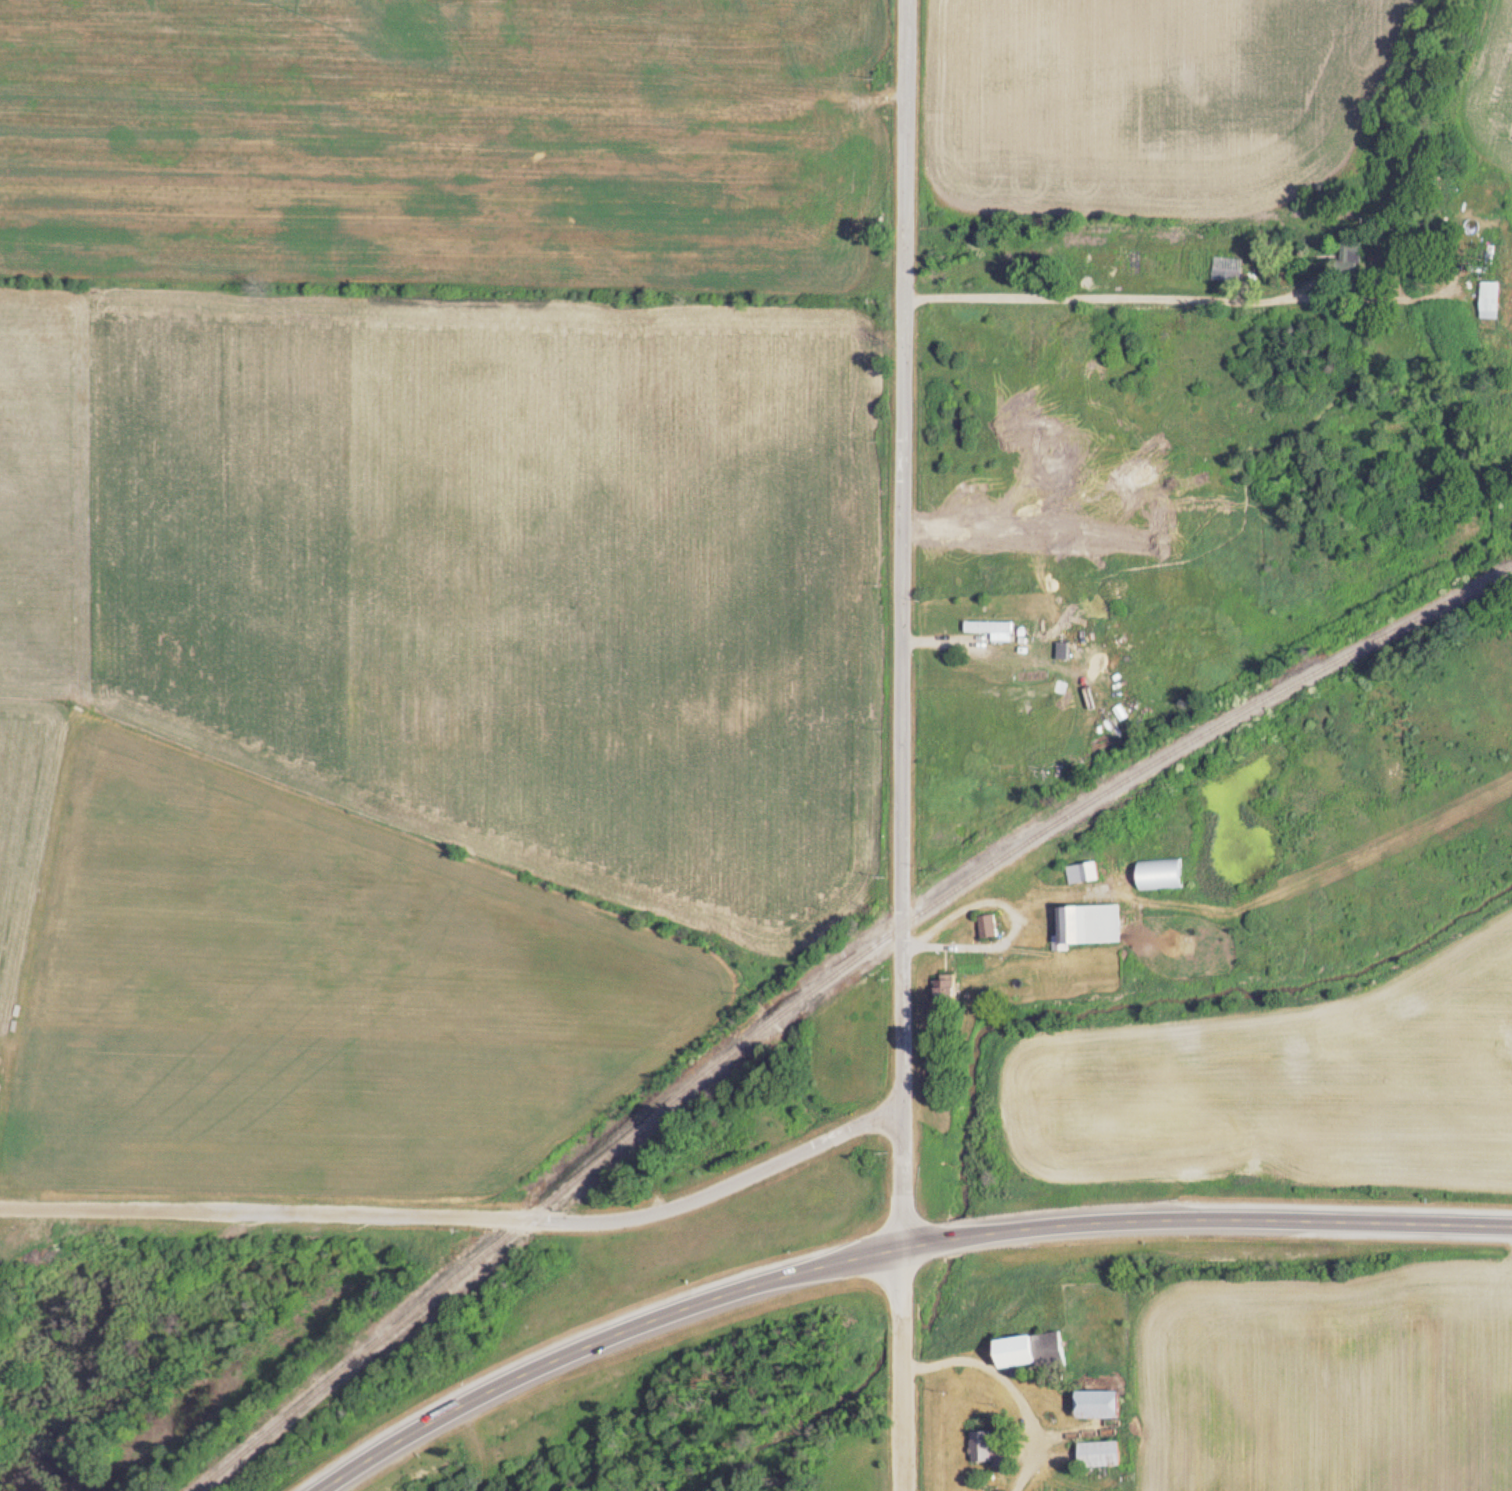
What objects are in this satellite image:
building: (1357, 260)
building: (1231, 272)
road: (1181, 299)
building: (1495, 303)
road: (894, 625)
building: (997, 633)
building: (1069, 653)
building: (1087, 876)
building: (1164, 877)
road: (1012, 912)
building: (1097, 927)
building: (992, 930)
railway: (828, 986)
building: (951, 993)
road: (465, 1222)
road: (895, 1252)
building: (1036, 1354)
road: (907, 1370)
road: (1011, 1389)
building: (1105, 1407)
building: (993, 1452)
building: (1105, 1457)

